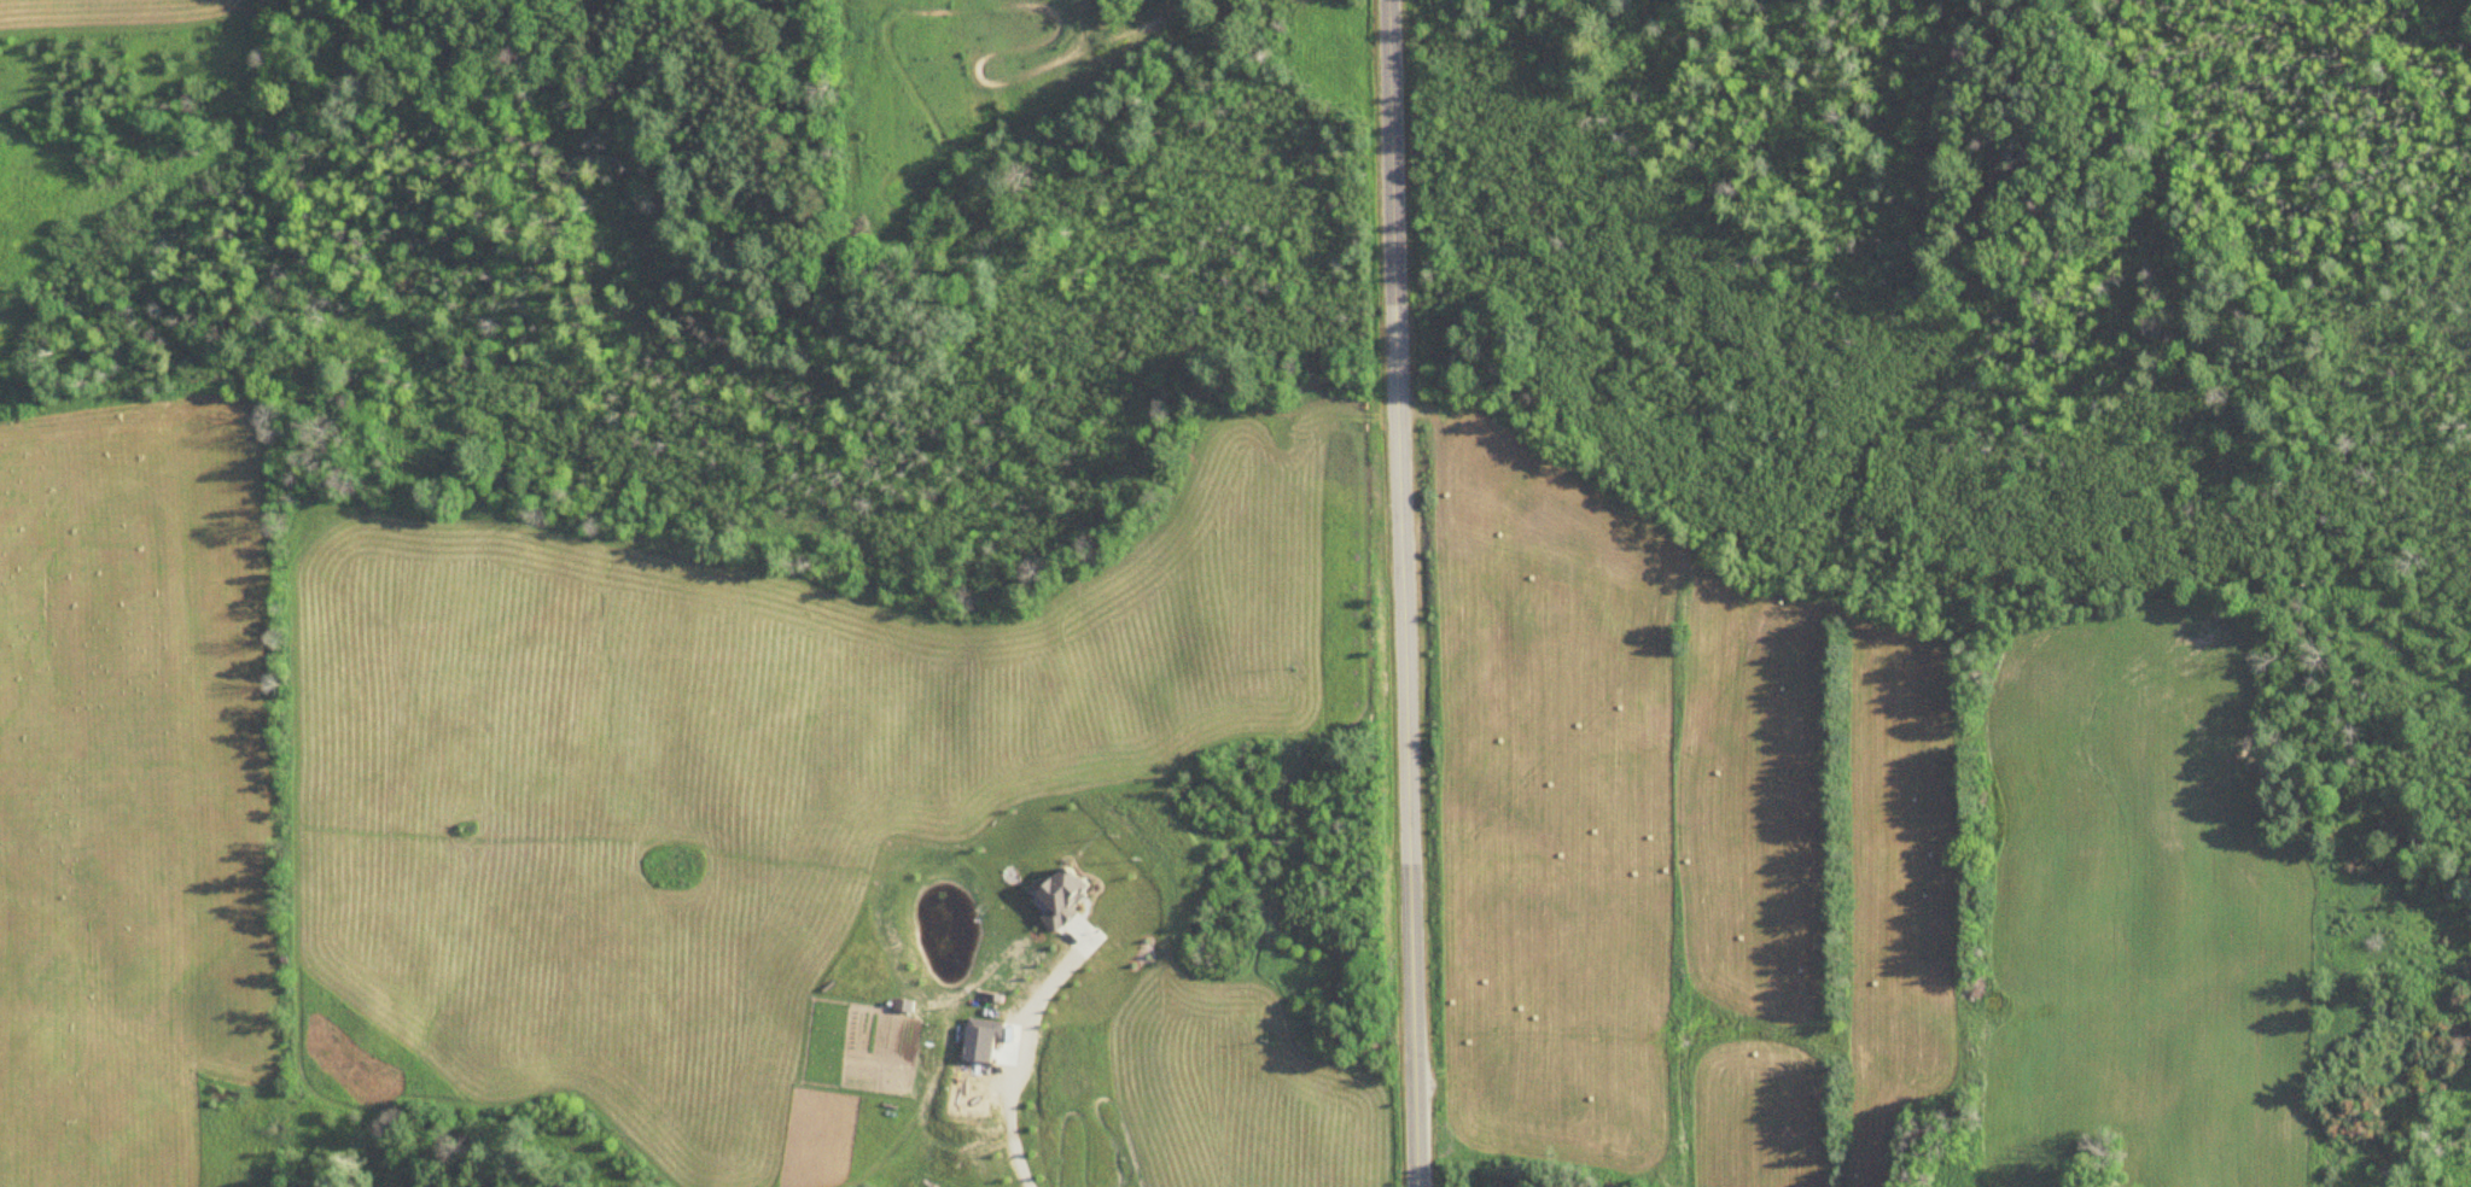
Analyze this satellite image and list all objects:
crop: (115, 17)
road: (1406, 593)
crop: (130, 787)

